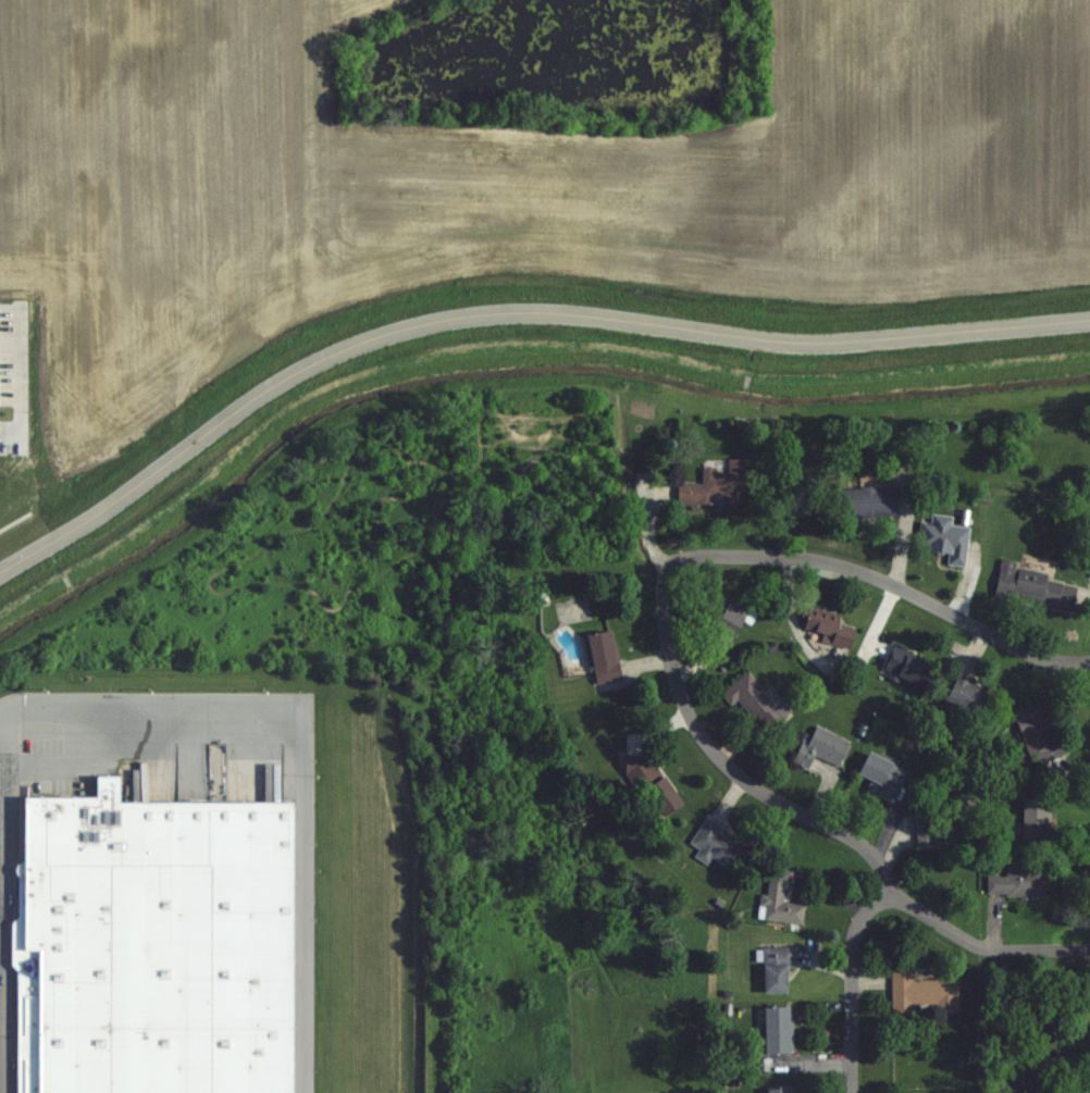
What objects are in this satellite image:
road: (510, 322)
building: (717, 486)
building: (870, 501)
building: (945, 538)
road: (883, 582)
building: (1038, 587)
building: (730, 623)
building: (831, 631)
building: (605, 657)
building: (908, 666)
building: (968, 696)
building: (758, 701)
building: (1039, 732)
building: (822, 747)
road: (723, 765)
road: (292, 771)
building: (882, 773)
building: (1037, 818)
building: (947, 829)
road: (0, 836)
building: (719, 846)
building: (1018, 882)
building: (780, 899)
road: (982, 946)
building: (152, 947)
building: (777, 968)
road: (852, 986)
building: (924, 992)
building: (779, 1029)
building: (778, 1089)

